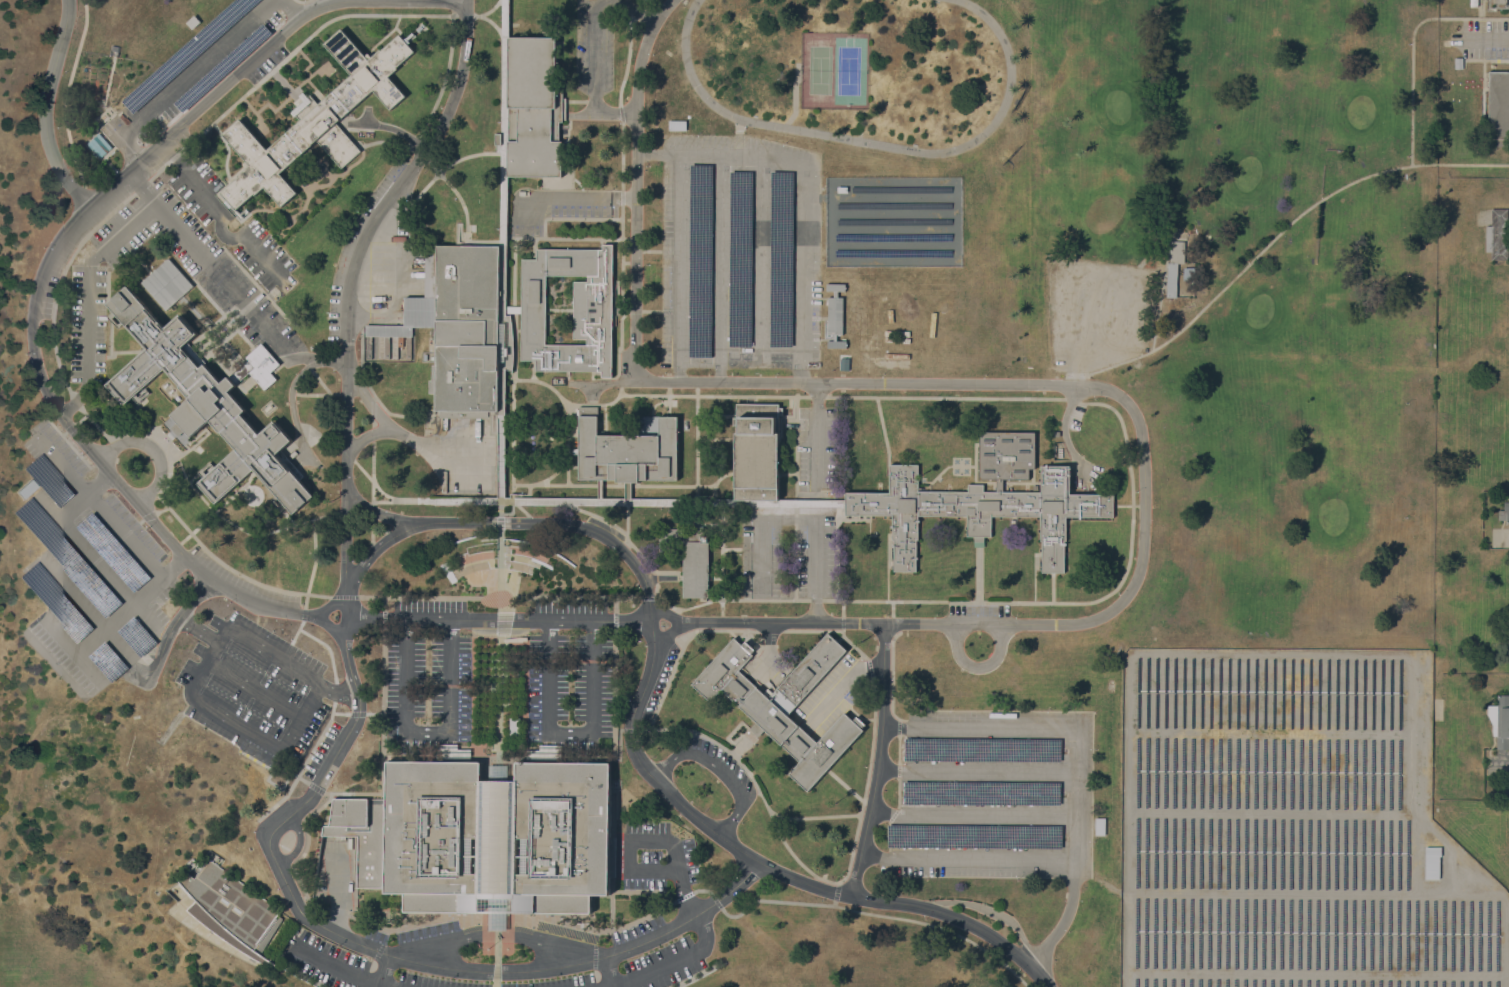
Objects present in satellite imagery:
road: (419, 0)
road: (466, 0)
road: (605, 1)
road: (328, 2)
building: (1499, 3)
road: (289, 10)
road: (633, 11)
road: (491, 24)
parking lot: (1481, 38)
road: (1485, 39)
road: (1411, 47)
road: (1485, 59)
building: (1457, 62)
track: (854, 68)
park: (819, 70)
road: (594, 71)
park: (848, 71)
road: (186, 78)
road: (443, 78)
road: (65, 93)
building: (1498, 106)
building: (534, 107)
park: (1118, 107)
road: (45, 108)
park: (1361, 112)
road: (366, 116)
building: (316, 120)
road: (503, 123)
building: (676, 125)
road: (389, 127)
building: (497, 139)
building: (99, 146)
road: (735, 152)
park: (1247, 173)
road: (440, 177)
road: (634, 185)
road: (420, 192)
road: (95, 201)
park: (1105, 214)
road: (220, 215)
road: (458, 223)
road: (1277, 234)
building: (1496, 235)
road: (513, 248)
parking lot: (742, 254)
road: (71, 256)
building: (740, 259)
building: (781, 259)
building: (700, 261)
road: (43, 266)
building: (1175, 266)
road: (1111, 278)
road: (227, 283)
building: (167, 284)
road: (349, 286)
park: (1230, 293)
road: (1162, 296)
building: (593, 309)
park: (1259, 312)
parking lot: (1098, 313)
building: (835, 315)
building: (458, 326)
road: (738, 359)
building: (501, 373)
road: (500, 374)
road: (320, 381)
road: (602, 382)
road: (654, 394)
road: (816, 396)
road: (945, 397)
road: (1071, 400)
building: (209, 402)
road: (383, 406)
road: (372, 416)
road: (390, 427)
road: (883, 434)
road: (167, 435)
road: (366, 436)
road: (337, 438)
road: (716, 438)
road: (696, 440)
road: (567, 444)
road: (511, 445)
building: (626, 450)
building: (756, 451)
road: (795, 458)
road: (975, 462)
road: (969, 465)
road: (786, 473)
road: (939, 473)
road: (550, 474)
road: (1144, 478)
building: (48, 481)
road: (1009, 481)
road: (633, 485)
building: (26, 489)
road: (599, 490)
road: (627, 491)
road: (511, 498)
road: (608, 501)
building: (985, 501)
road: (1123, 505)
road: (377, 511)
building: (1504, 512)
road: (371, 515)
park: (1333, 516)
road: (804, 517)
road: (500, 522)
road: (553, 522)
road: (239, 526)
building: (670, 539)
road: (375, 549)
road: (794, 551)
building: (113, 552)
road: (635, 553)
parking lot: (787, 555)
building: (67, 558)
building: (696, 565)
road: (887, 565)
parking lot: (89, 568)
road: (312, 569)
road: (500, 570)
road: (978, 574)
road: (1052, 588)
road: (343, 596)
road: (498, 596)
road: (648, 597)
road: (730, 599)
road: (814, 600)
building: (56, 602)
road: (383, 602)
road: (1080, 602)
road: (614, 604)
road: (323, 608)
road: (660, 612)
road: (842, 615)
road: (384, 617)
road: (345, 619)
road: (615, 620)
road: (497, 621)
road: (501, 624)
road: (170, 630)
road: (769, 630)
road: (833, 630)
road: (195, 631)
road: (296, 632)
building: (136, 636)
road: (327, 648)
road: (680, 650)
building: (108, 661)
road: (891, 661)
road: (978, 665)
road: (869, 669)
road: (198, 670)
parking lot: (498, 674)
road: (253, 688)
building: (783, 705)
road: (499, 708)
road: (382, 710)
road: (613, 711)
road: (340, 714)
building: (1500, 721)
building: (514, 726)
road: (898, 726)
road: (629, 729)
road: (427, 734)
road: (569, 734)
building: (982, 749)
road: (440, 756)
road: (556, 757)
road: (1077, 757)
road: (878, 761)
road: (302, 766)
road: (719, 770)
road: (977, 770)
road: (897, 778)
road: (267, 781)
road: (865, 782)
road: (754, 783)
road: (845, 785)
road: (319, 789)
building: (982, 793)
parking lot: (993, 795)
road: (814, 815)
road: (972, 816)
building: (1099, 825)
road: (620, 833)
building: (485, 835)
building: (975, 836)
road: (649, 839)
road: (306, 842)
road: (299, 844)
road: (611, 861)
road: (966, 861)
building: (1432, 861)
road: (779, 871)
road: (331, 885)
road: (702, 890)
road: (633, 891)
road: (836, 892)
road: (684, 896)
road: (715, 901)
road: (834, 903)
building: (232, 910)
road: (988, 910)
road: (879, 915)
road: (514, 916)
road: (501, 935)
road: (497, 950)
road: (382, 952)
parking lot: (318, 956)
road: (670, 963)
road: (341, 966)
road: (609, 970)
road: (383, 975)

